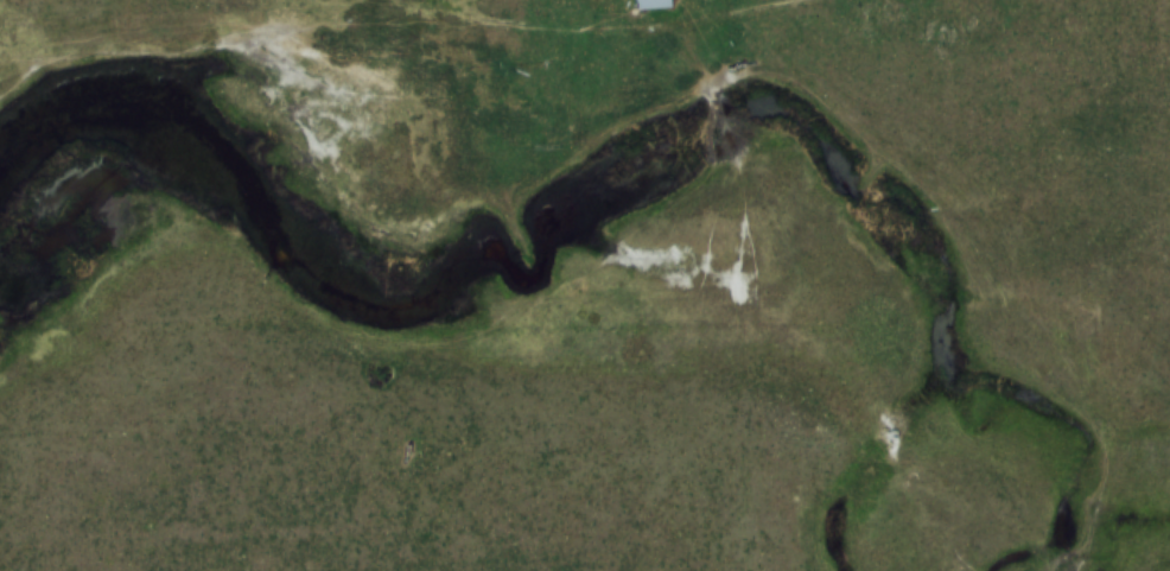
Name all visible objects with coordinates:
building: (644, 5)

